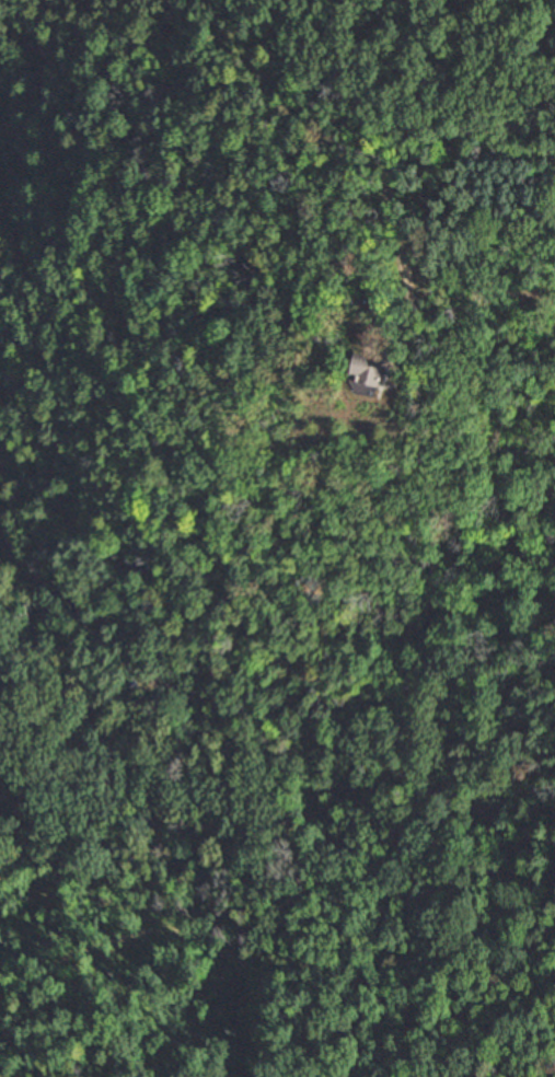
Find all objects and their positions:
building: (369, 370)

